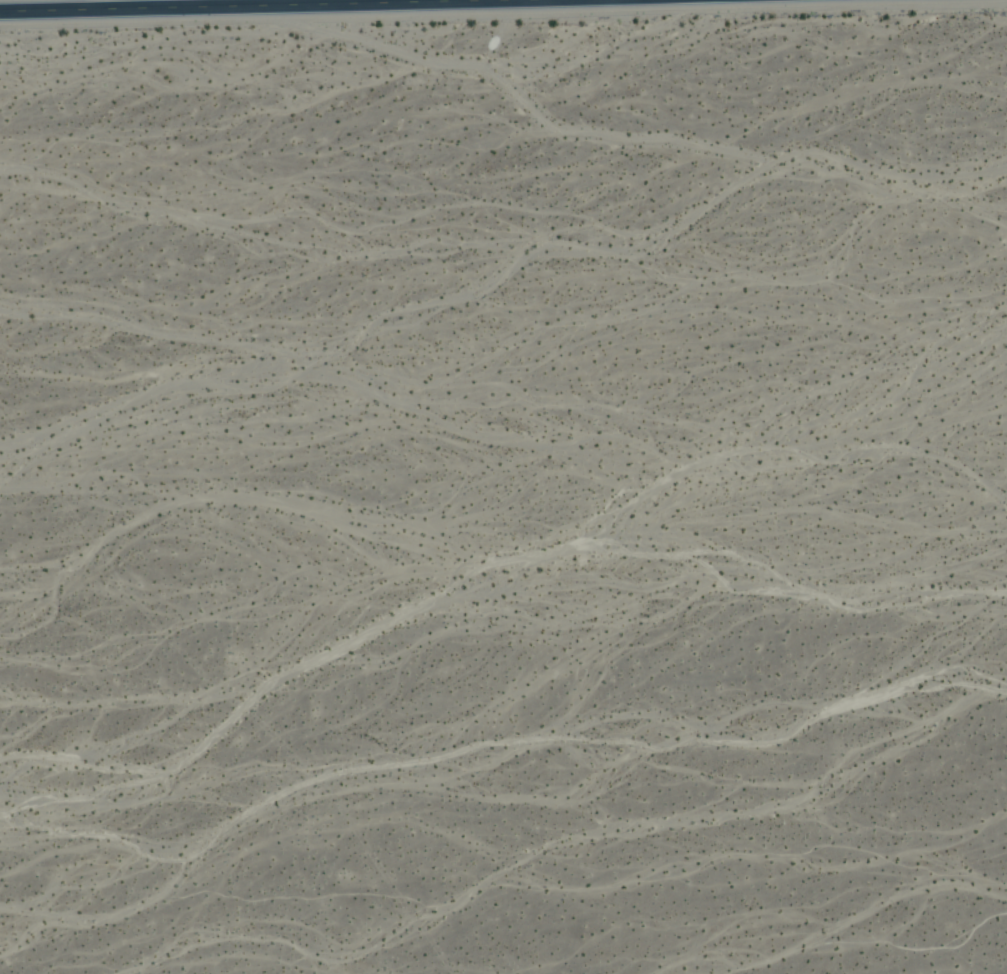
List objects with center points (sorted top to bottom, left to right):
road: (259, 5)

